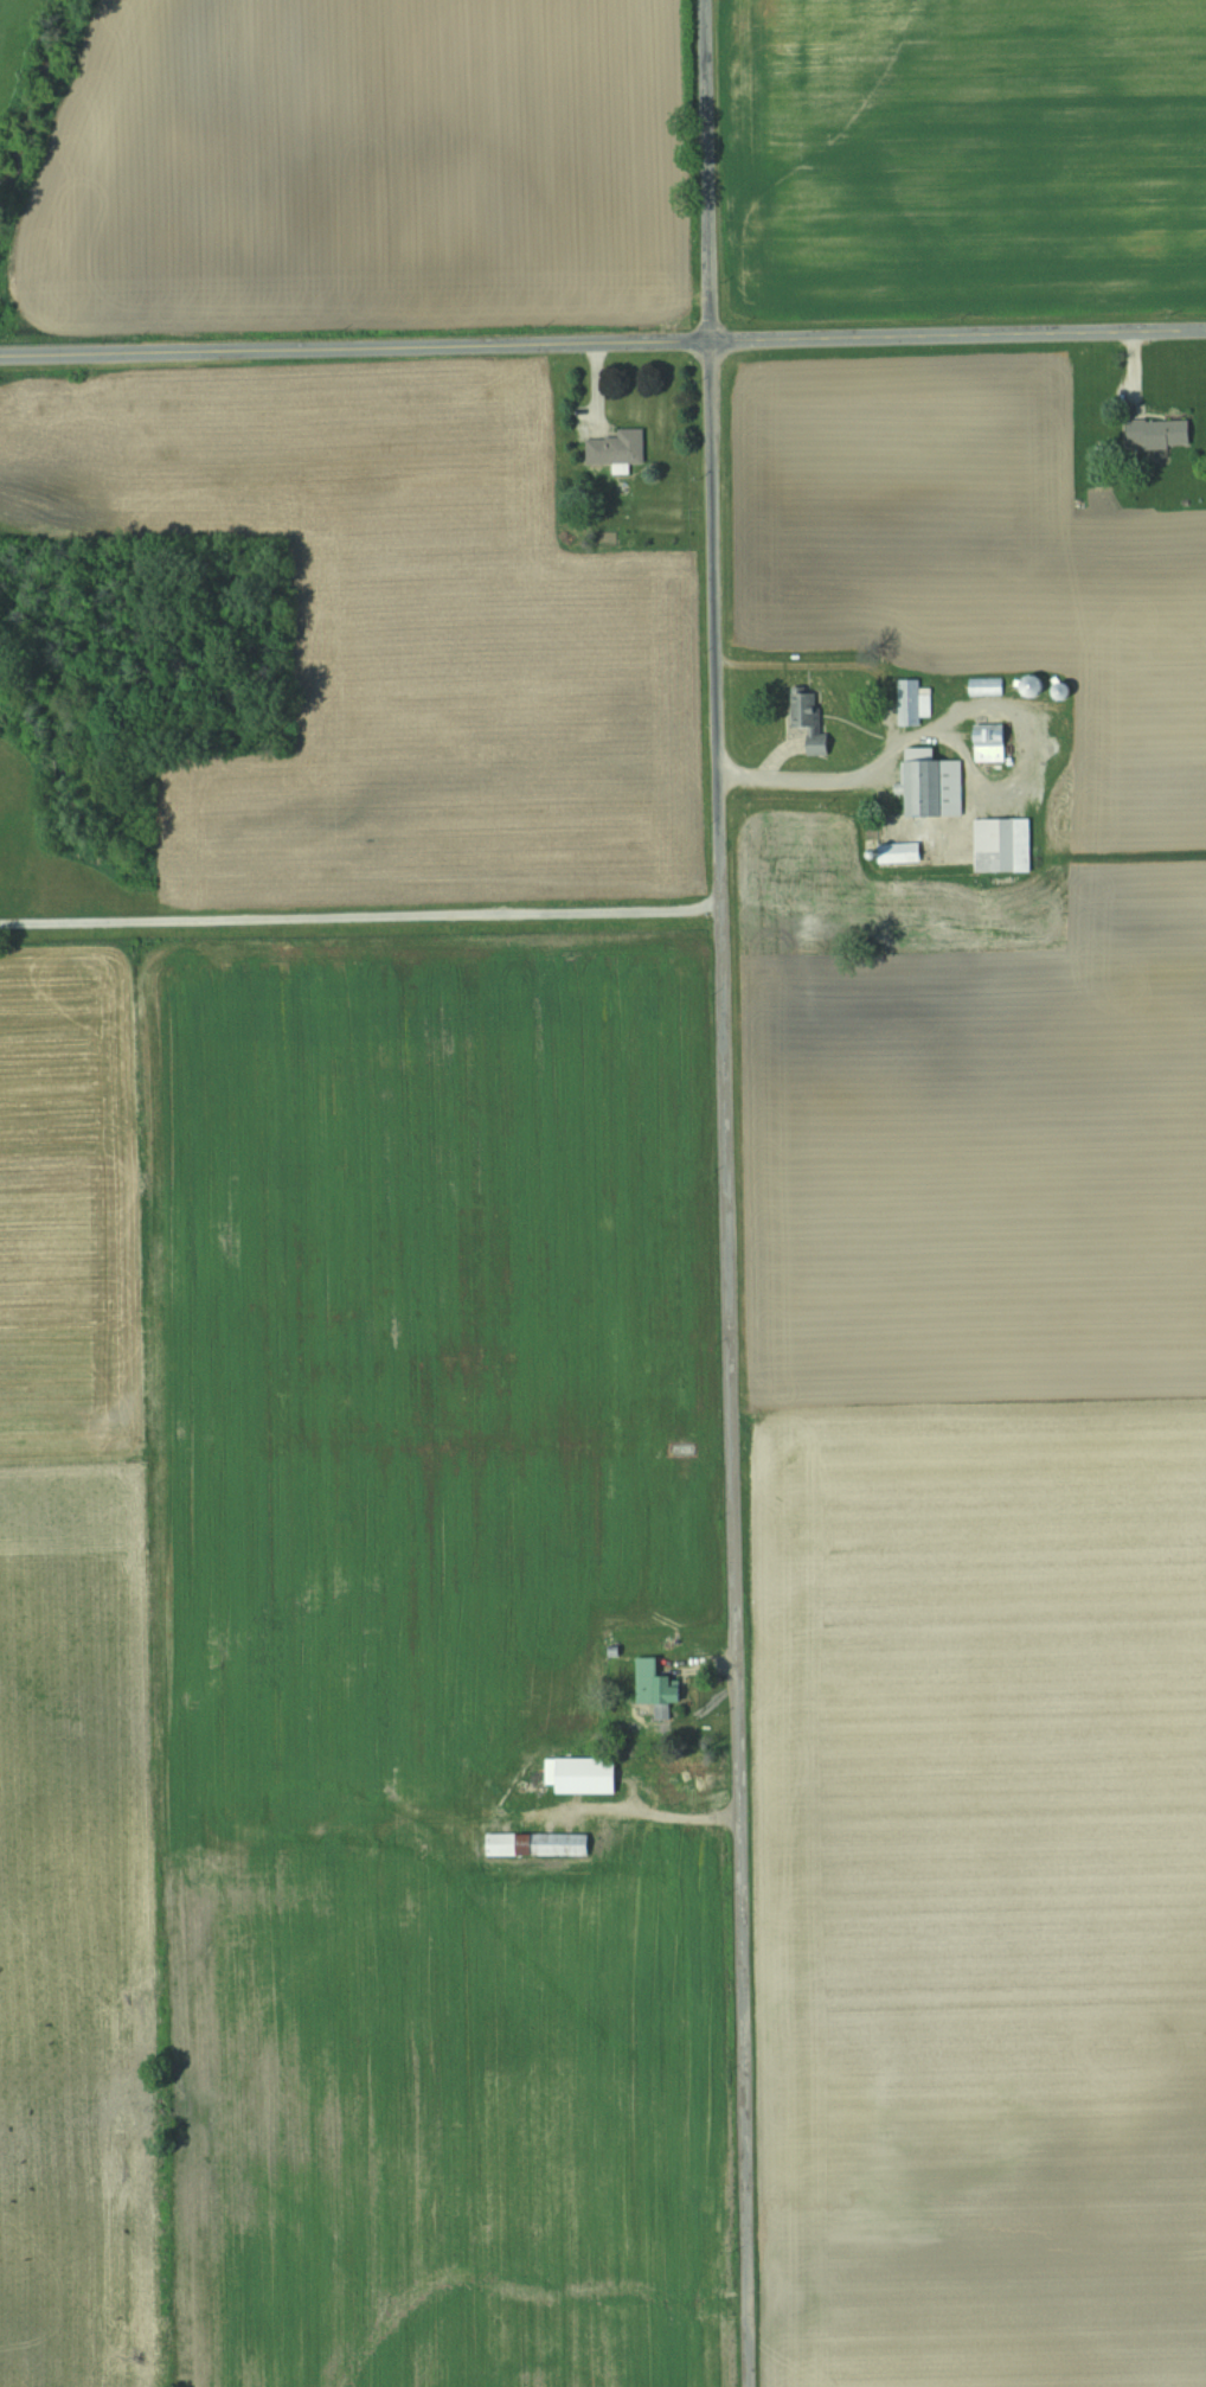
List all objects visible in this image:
road: (603, 343)
building: (1160, 434)
building: (617, 449)
building: (662, 591)
building: (986, 686)
building: (1033, 686)
building: (913, 702)
building: (808, 717)
building: (992, 743)
road: (836, 783)
building: (932, 786)
building: (1003, 845)
building: (899, 852)
road: (360, 916)
road: (726, 1193)
building: (656, 1683)
building: (583, 1774)
building: (537, 1844)

